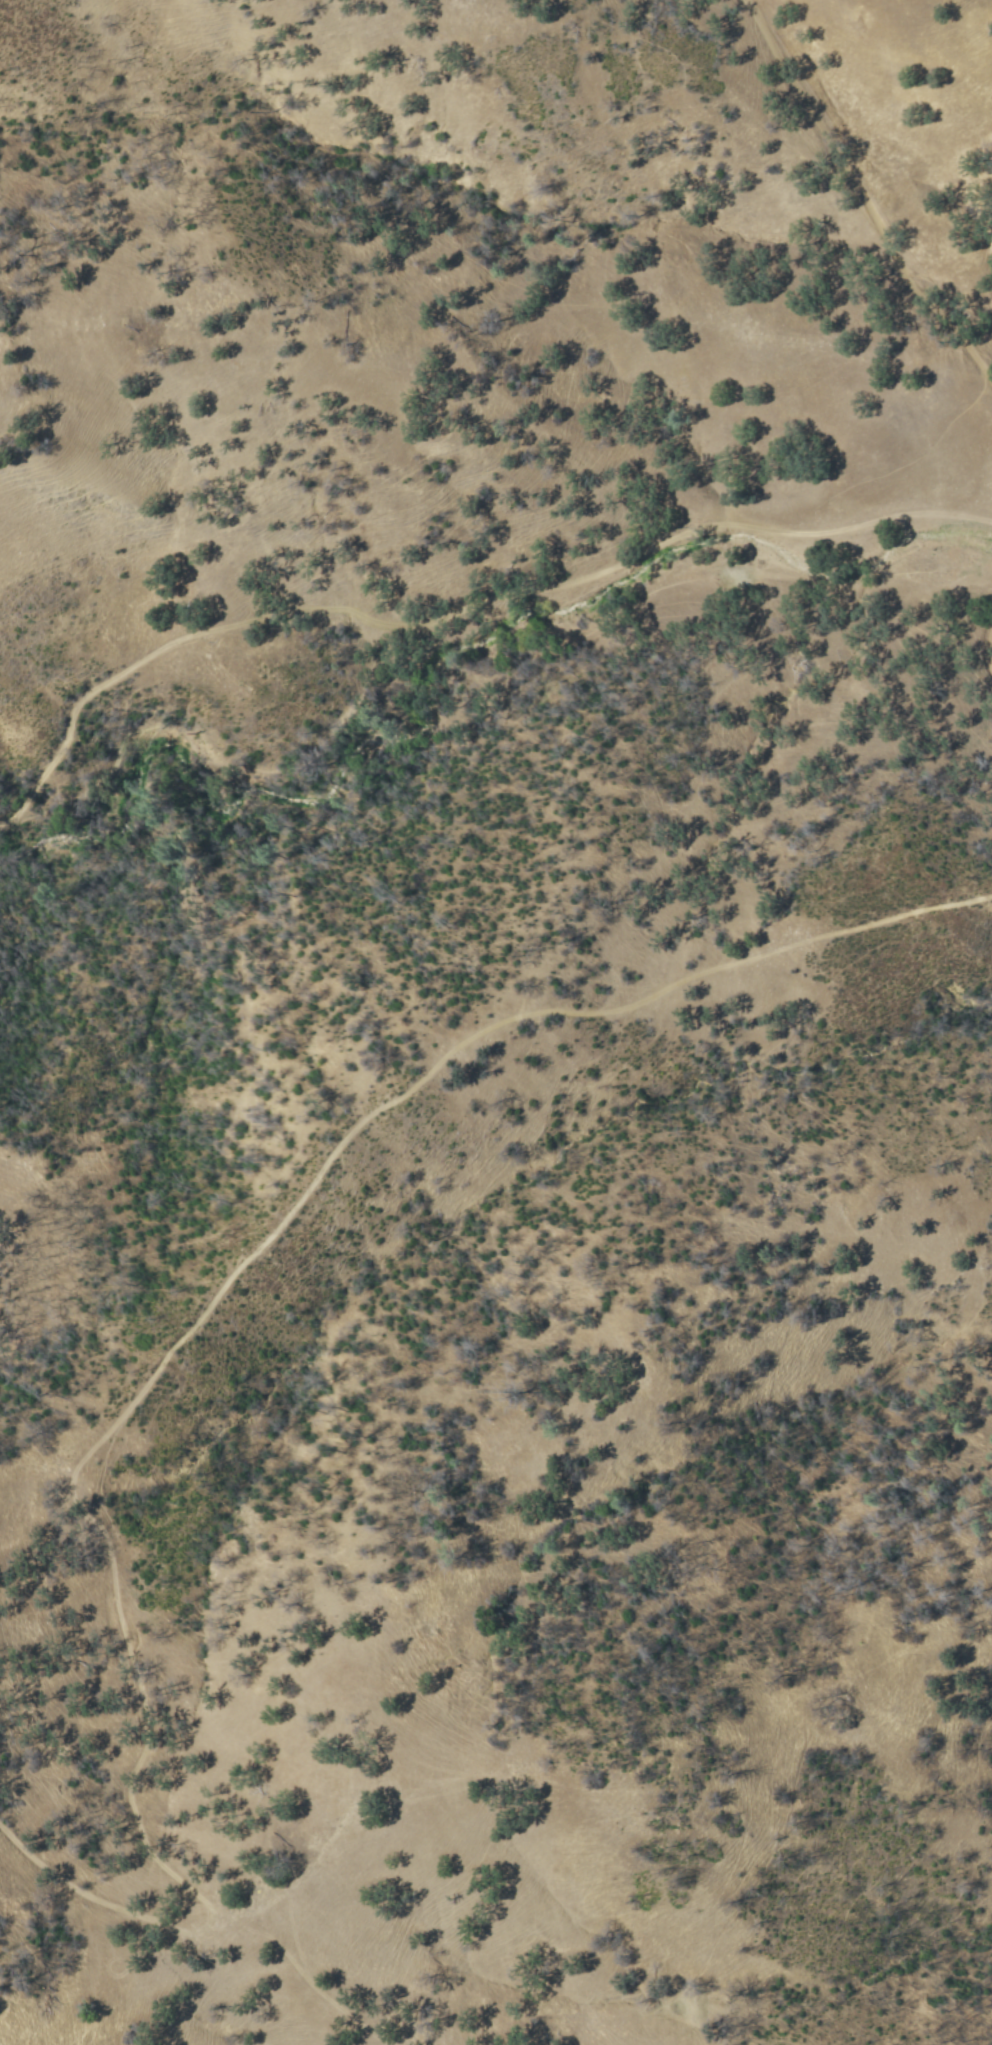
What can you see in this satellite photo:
road: (864, 189)

